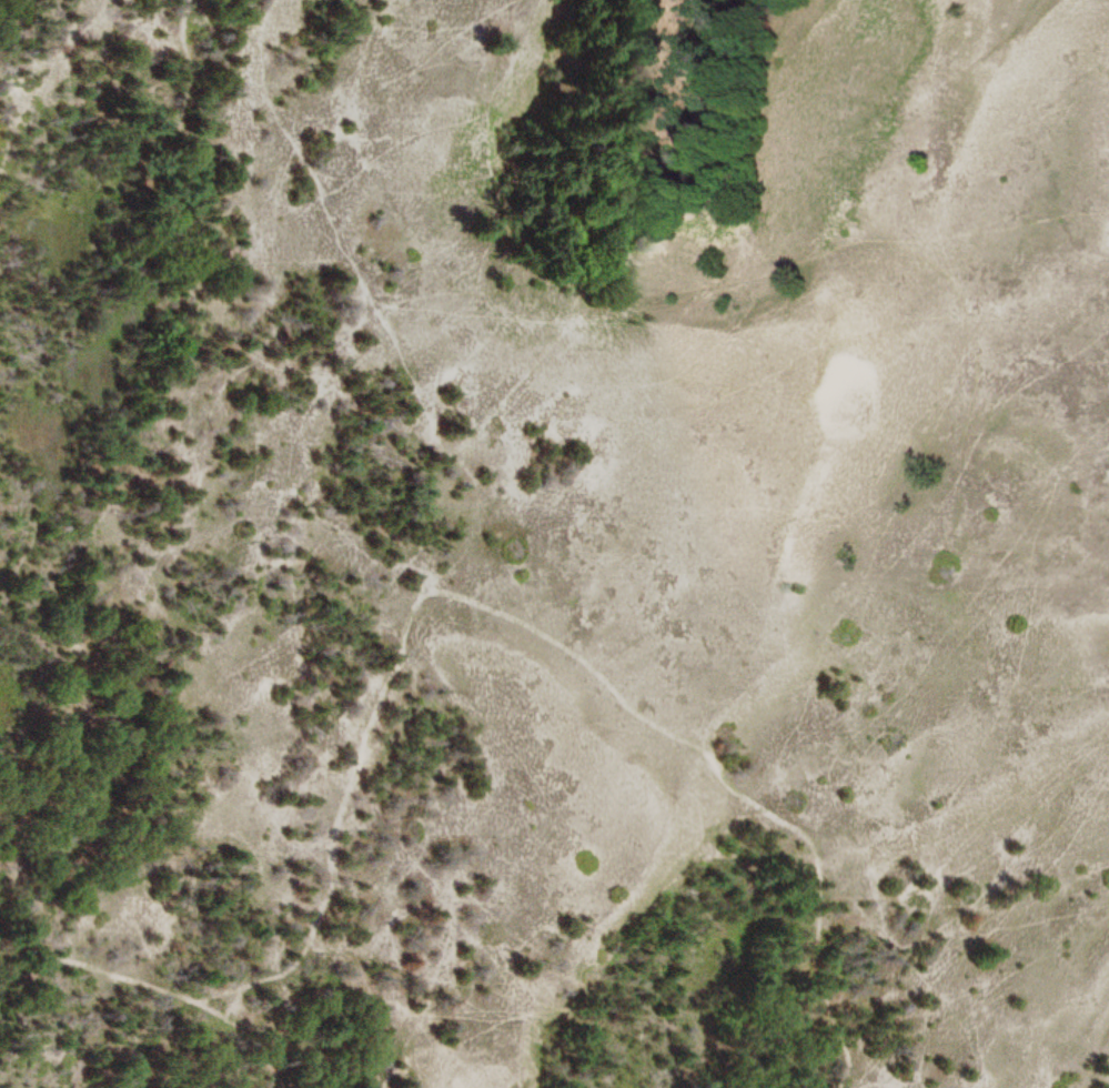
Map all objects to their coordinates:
road: (140, 322)
park: (554, 544)
road: (151, 988)

